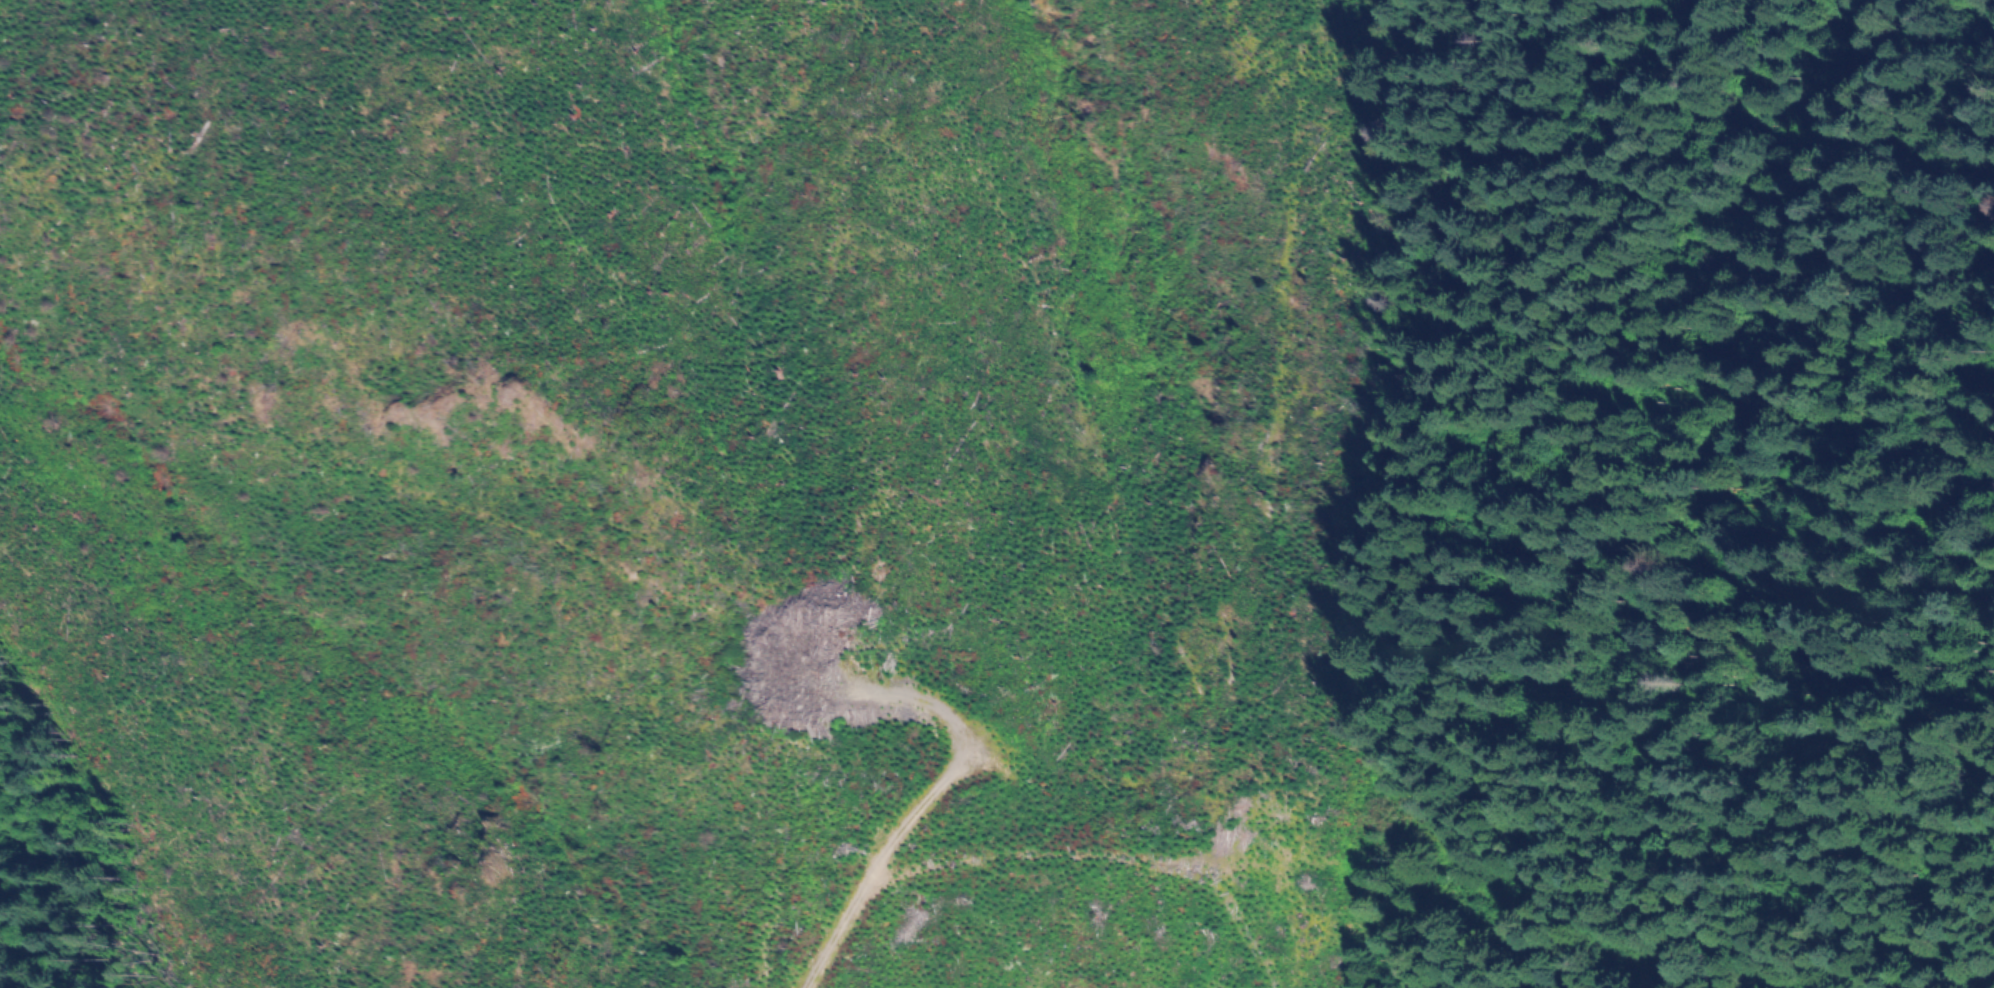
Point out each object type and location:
road: (928, 792)

